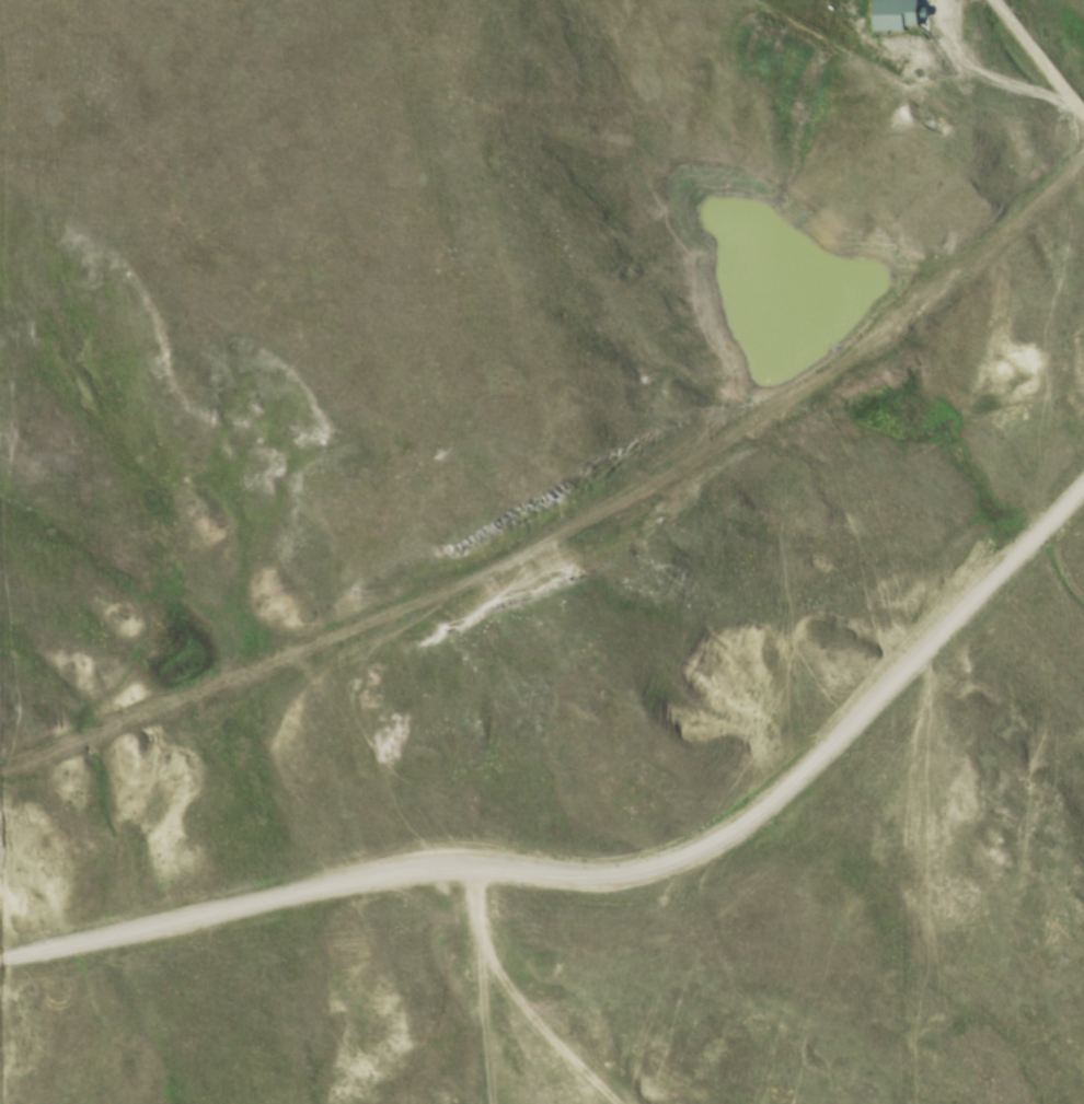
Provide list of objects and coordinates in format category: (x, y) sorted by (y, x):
building: (890, 14)
road: (1031, 53)
road: (983, 73)
road: (1079, 114)
railway: (575, 521)
road: (611, 872)

